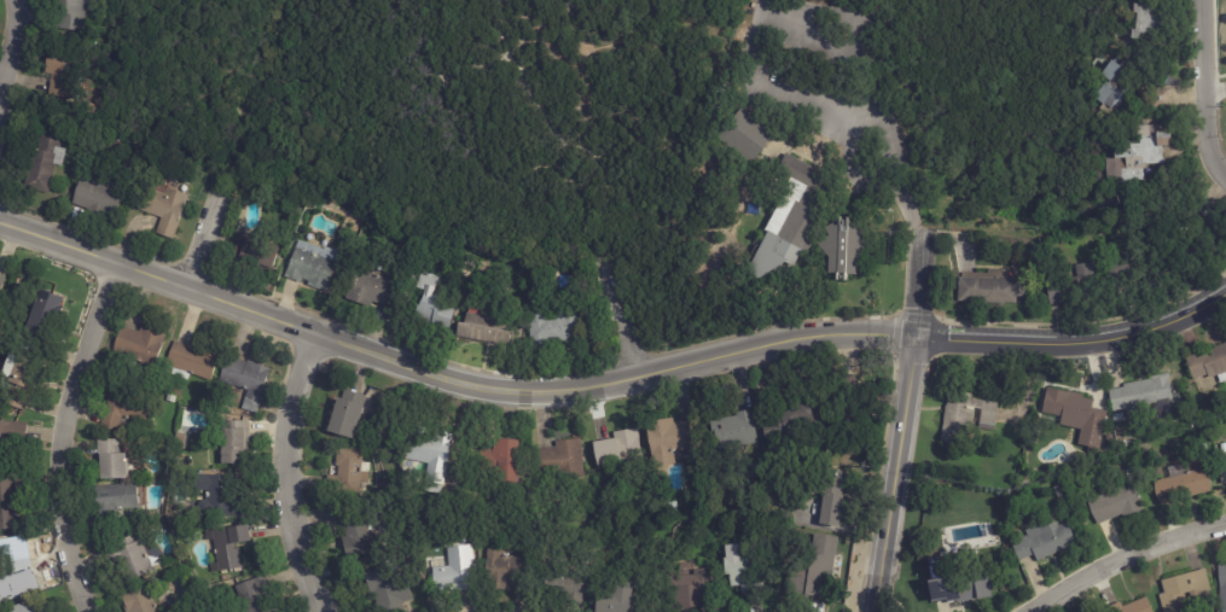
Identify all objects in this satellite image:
road: (767, 5)
building: (70, 14)
building: (1146, 19)
road: (7, 40)
road: (600, 46)
road: (489, 57)
building: (63, 75)
building: (1110, 91)
road: (1216, 92)
road: (1205, 93)
building: (1158, 99)
park: (580, 105)
building: (89, 109)
building: (745, 136)
building: (1140, 153)
building: (46, 161)
building: (98, 197)
building: (163, 210)
building: (792, 220)
building: (1204, 222)
road: (204, 237)
building: (844, 250)
building: (1187, 250)
building: (344, 252)
building: (255, 255)
building: (310, 266)
building: (1127, 273)
building: (1, 280)
road: (918, 285)
building: (1071, 288)
building: (370, 290)
building: (989, 292)
building: (429, 305)
building: (43, 314)
road: (617, 316)
building: (483, 328)
building: (551, 328)
road: (1075, 344)
building: (138, 348)
building: (191, 361)
building: (1208, 365)
road: (448, 375)
building: (17, 379)
building: (244, 380)
building: (1145, 398)
building: (123, 410)
building: (345, 413)
building: (1067, 414)
building: (966, 418)
building: (790, 419)
building: (1118, 419)
building: (733, 429)
road: (63, 436)
building: (667, 439)
building: (11, 444)
building: (231, 444)
building: (617, 449)
building: (1224, 449)
building: (1147, 450)
building: (429, 454)
building: (1059, 456)
building: (111, 459)
building: (558, 461)
building: (498, 466)
building: (1222, 471)
building: (350, 473)
road: (897, 473)
road: (283, 474)
building: (1181, 485)
building: (117, 497)
building: (220, 497)
building: (831, 497)
building: (6, 503)
building: (1116, 505)
building: (710, 517)
building: (358, 535)
building: (469, 540)
building: (1044, 542)
building: (227, 547)
building: (129, 559)
road: (1123, 559)
building: (815, 567)
building: (742, 569)
building: (454, 570)
building: (505, 571)
building: (14, 572)
building: (951, 583)
building: (1222, 584)
building: (384, 589)
building: (564, 589)
building: (688, 589)
building: (1183, 590)
building: (254, 595)
building: (614, 598)
building: (138, 601)
building: (1131, 606)
building: (21, 607)

